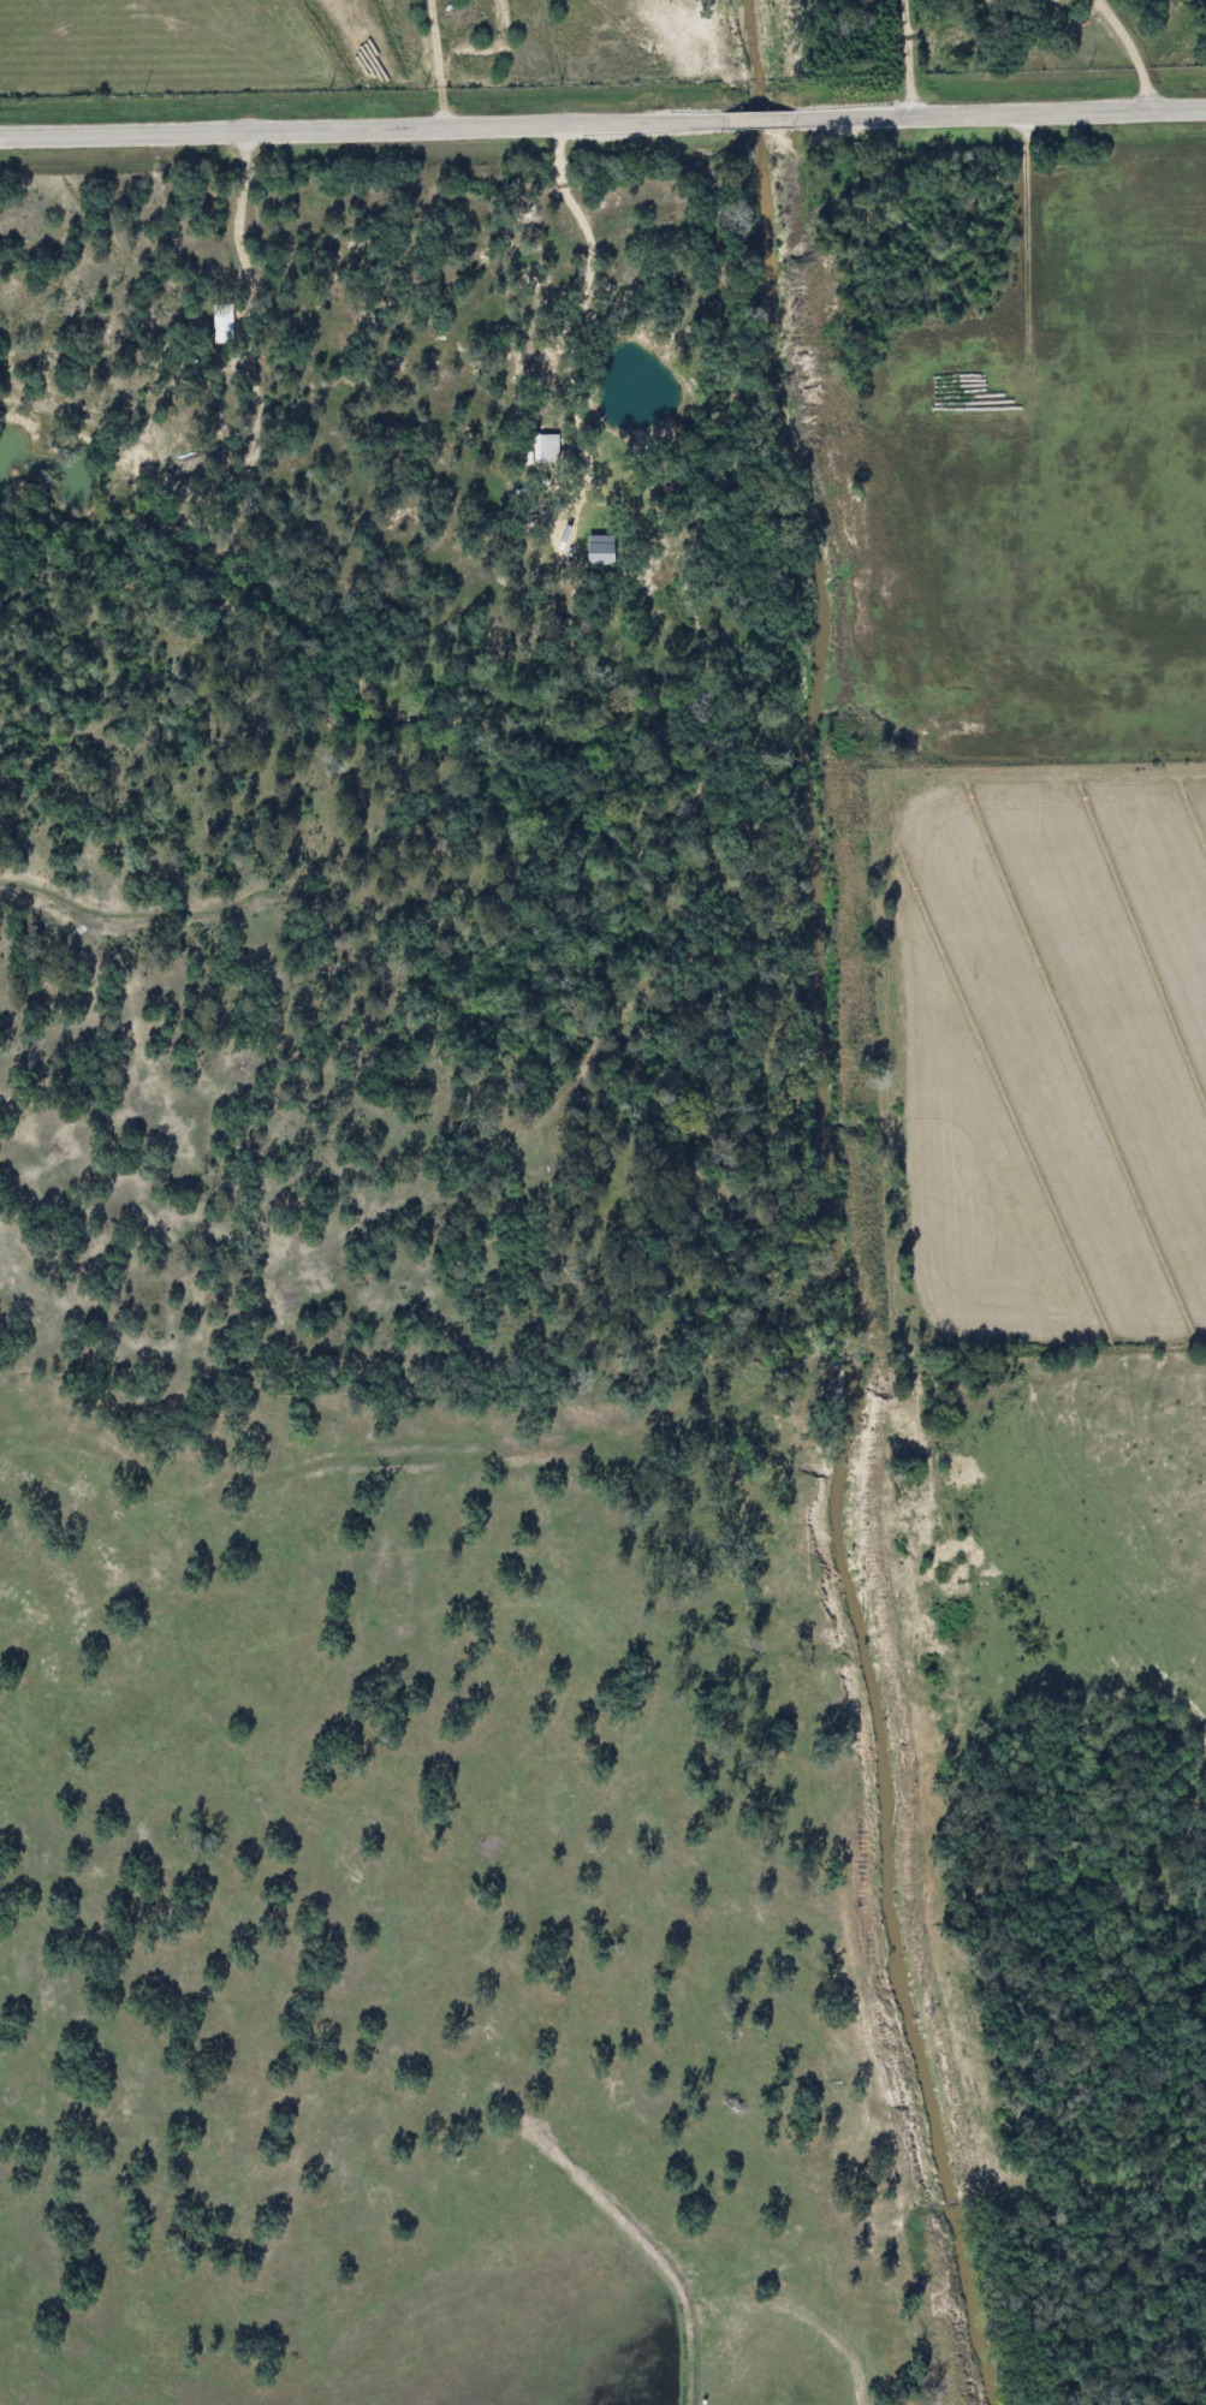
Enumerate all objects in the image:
road: (1127, 51)
road: (602, 120)
road: (233, 247)
road: (583, 260)
building: (218, 323)
building: (543, 449)

